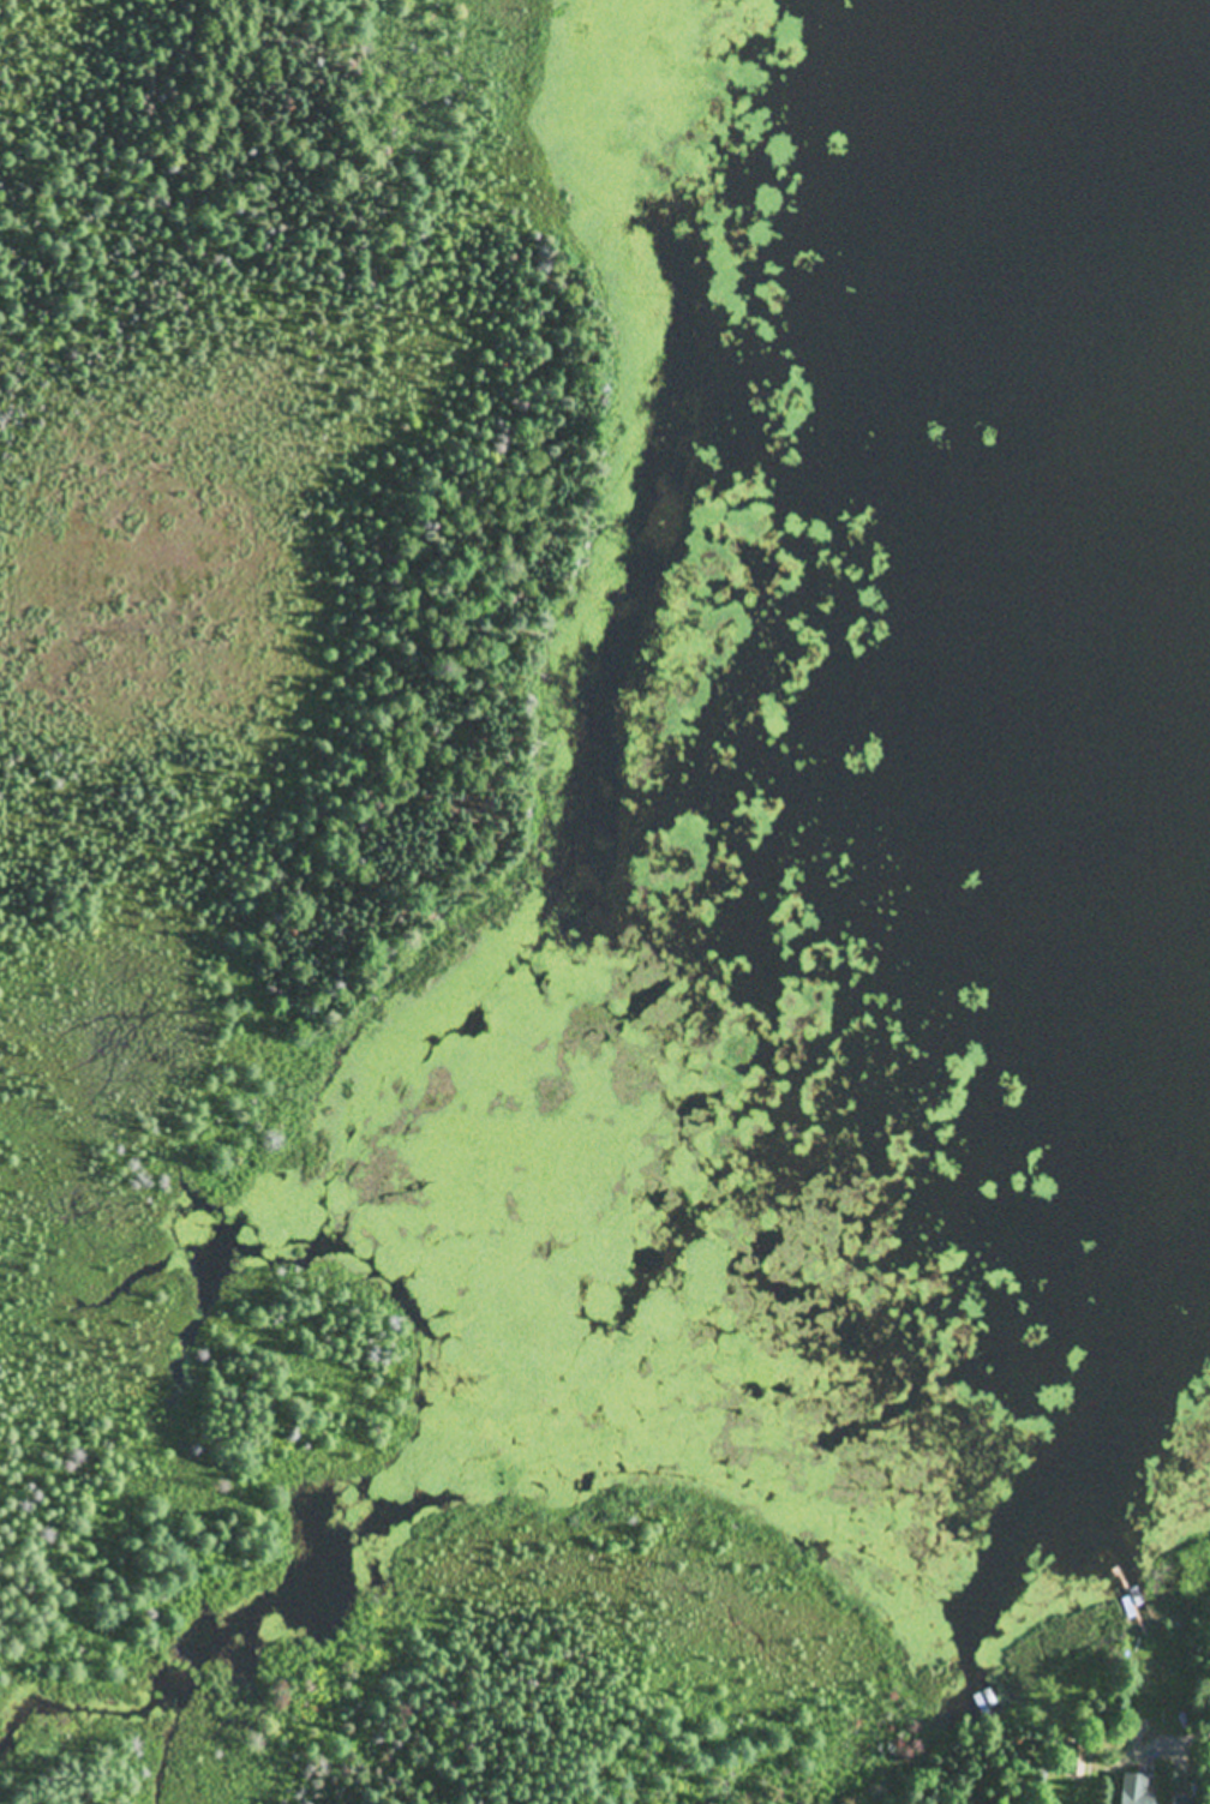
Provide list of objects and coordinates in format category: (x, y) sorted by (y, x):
road: (1068, 1698)
road: (953, 1767)
building: (1133, 1791)

